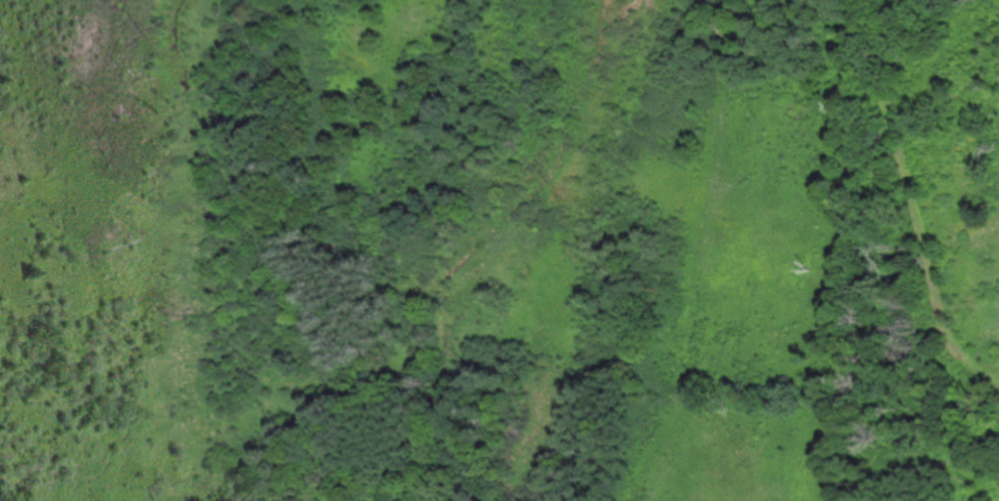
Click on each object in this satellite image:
road: (840, 0)
road: (904, 202)
park: (529, 250)

